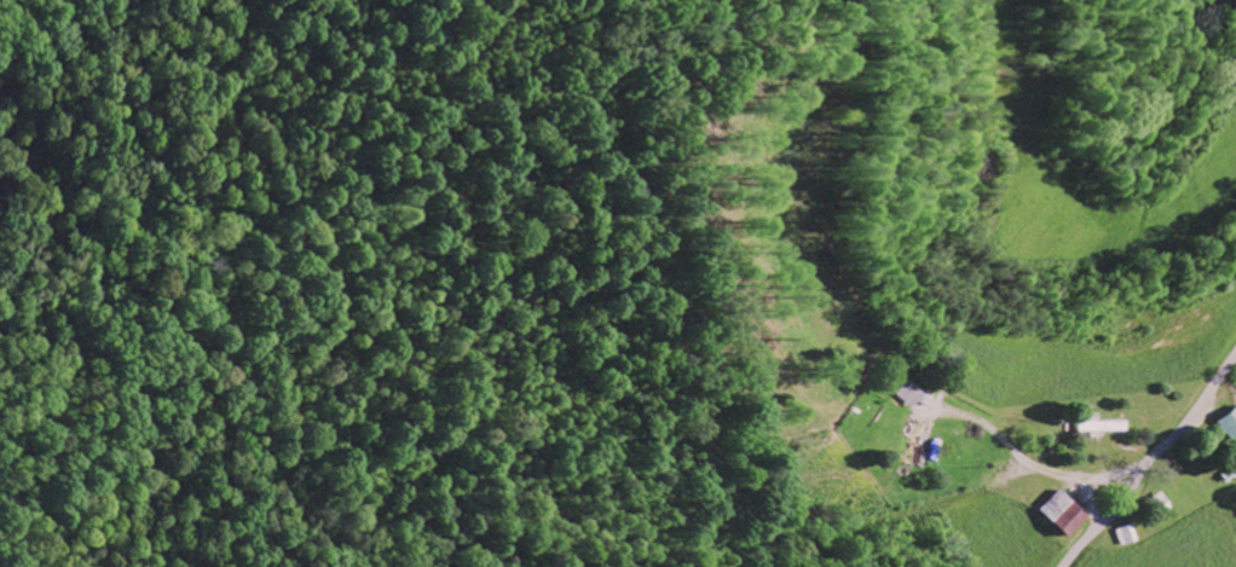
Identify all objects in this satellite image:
building: (906, 397)
building: (1229, 426)
building: (1101, 428)
road: (1013, 450)
road: (1154, 464)
road: (1098, 482)
building: (1059, 515)
building: (1127, 537)

